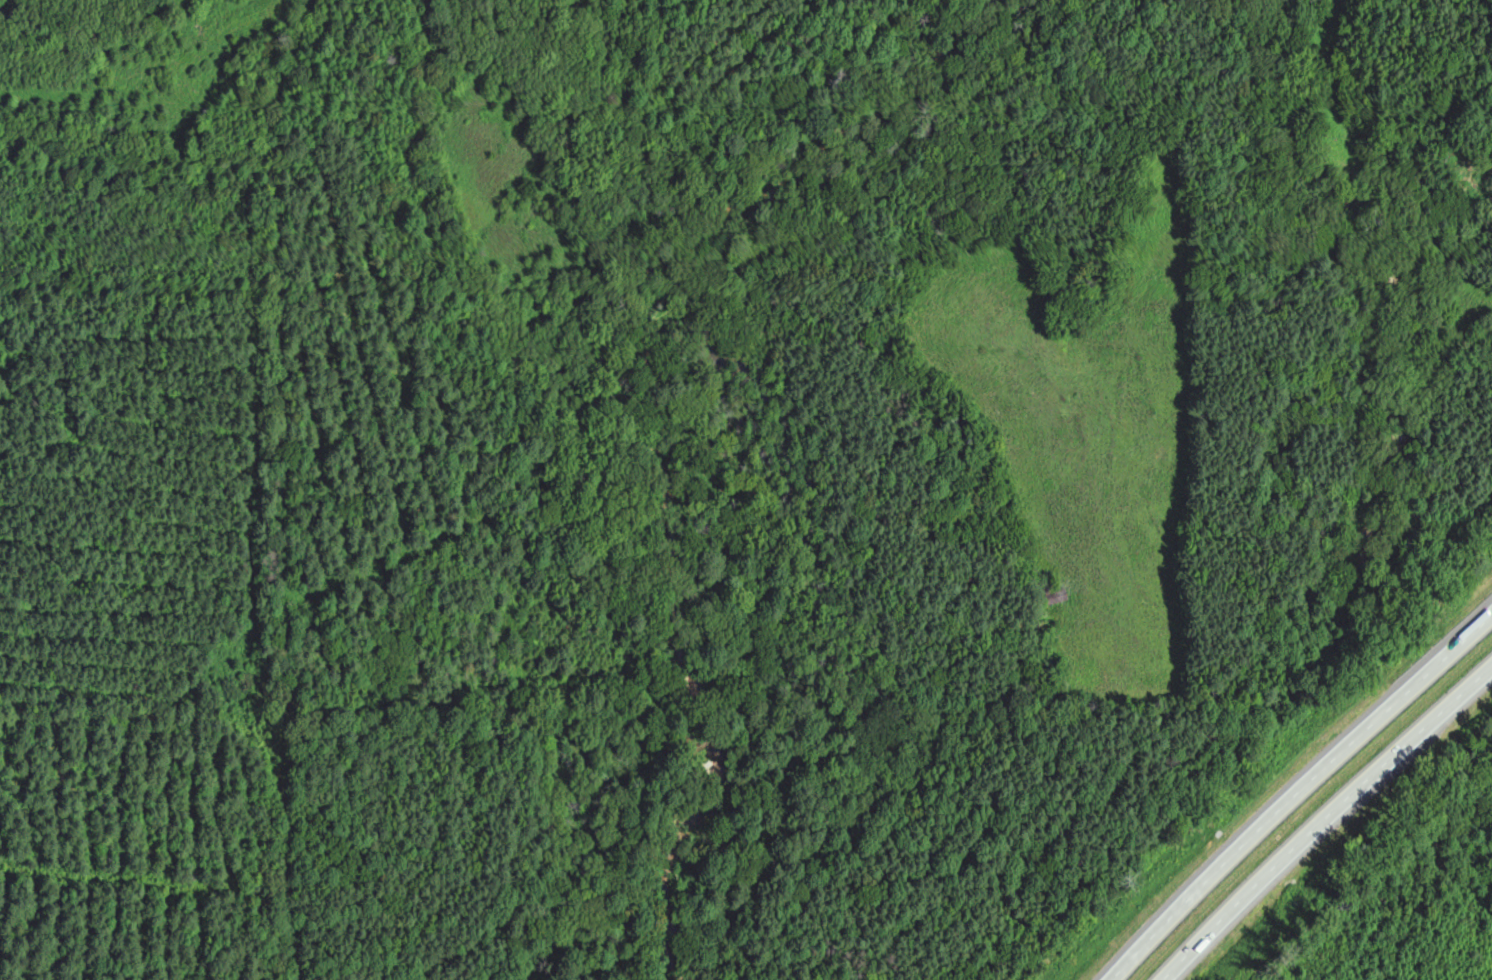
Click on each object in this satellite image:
road: (1294, 788)
road: (1329, 823)

